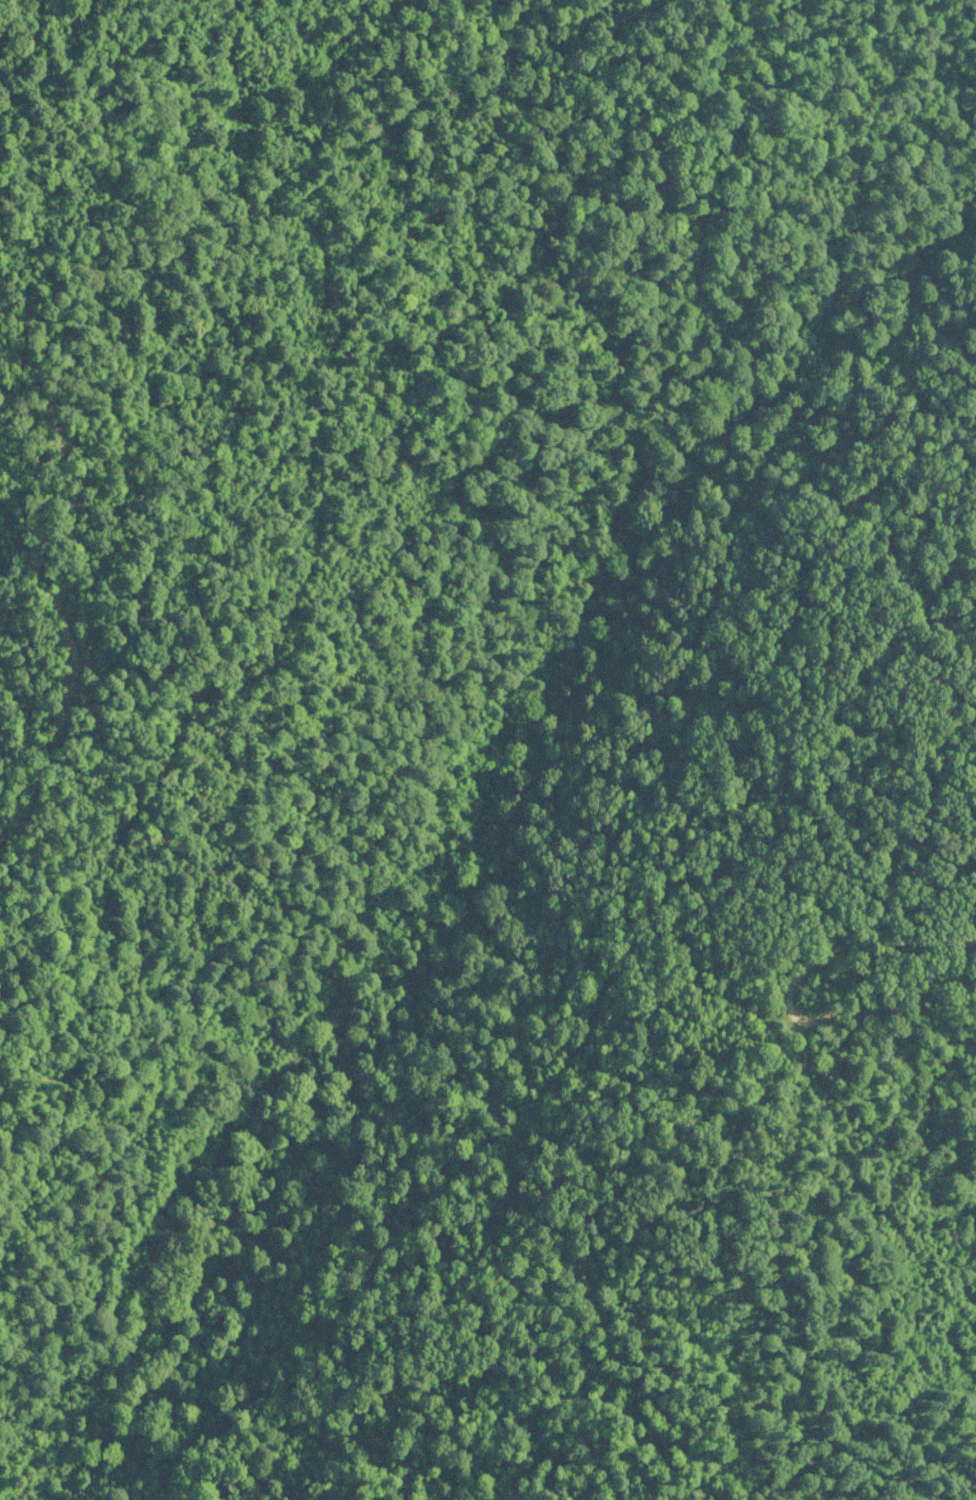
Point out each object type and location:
road: (775, 986)

